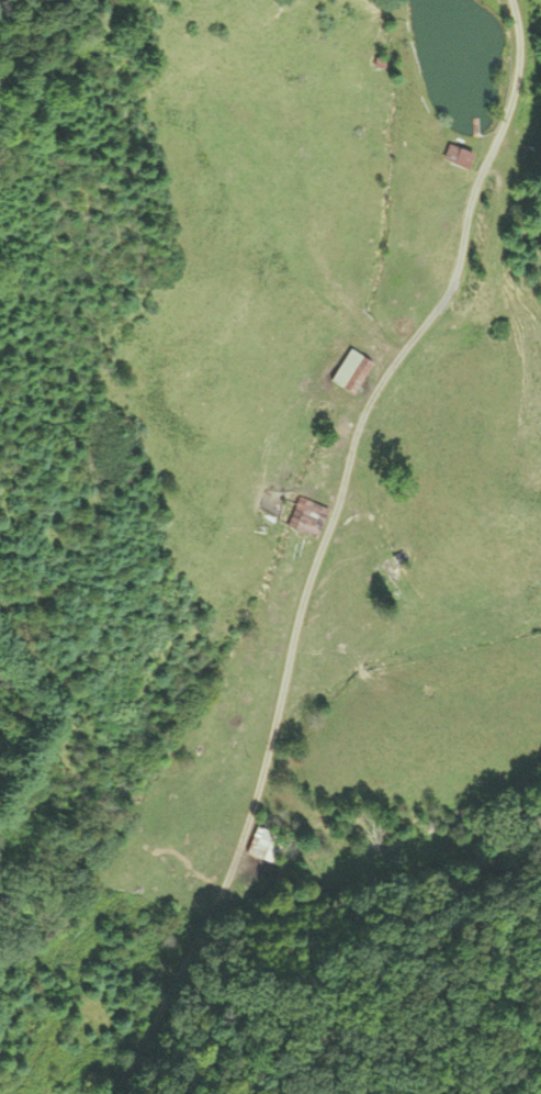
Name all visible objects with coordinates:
building: (459, 157)
building: (356, 375)
building: (308, 518)
road: (320, 545)
building: (266, 846)

